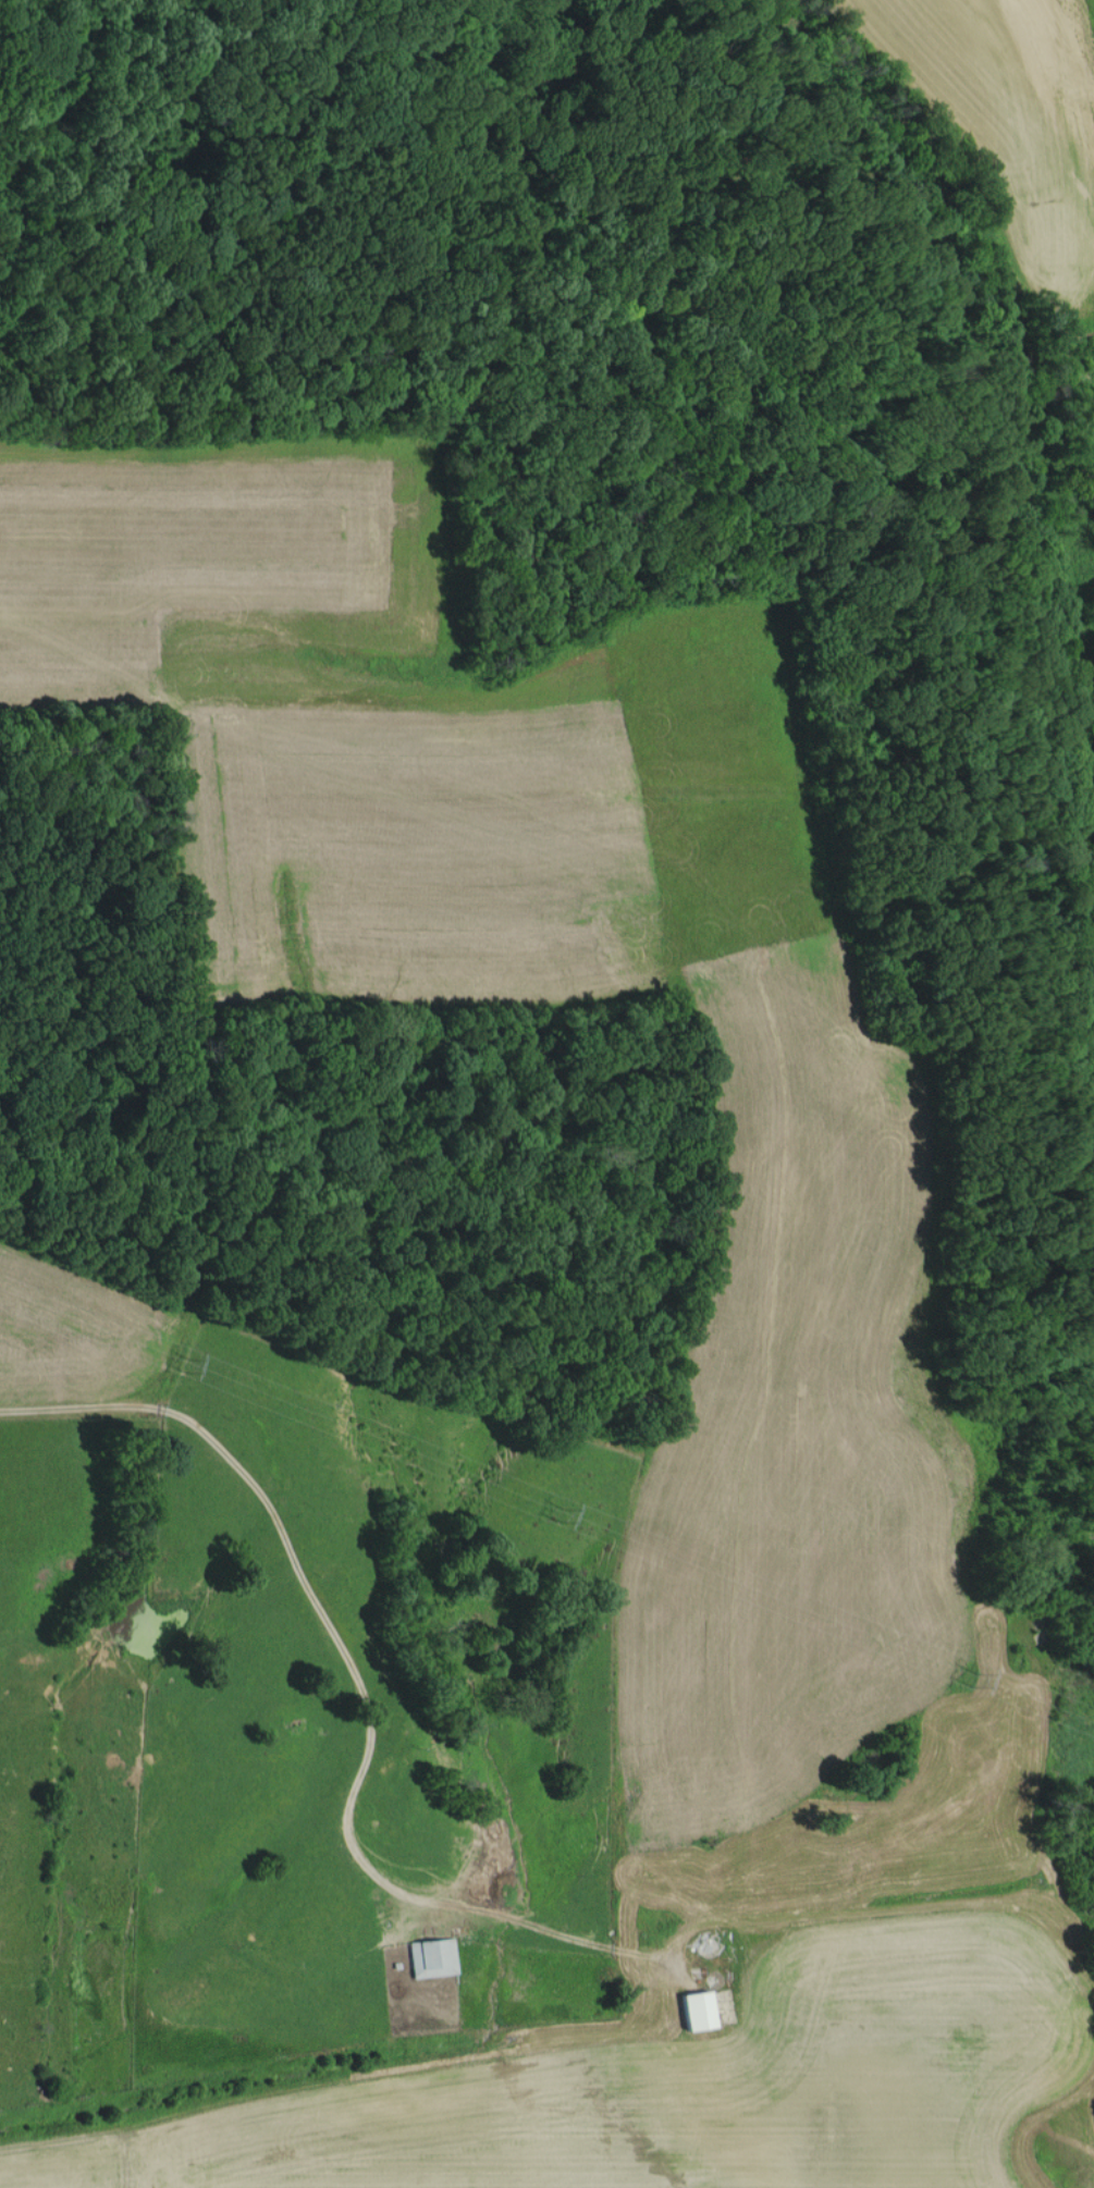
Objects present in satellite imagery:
power tower: (185, 1365)
power tower: (558, 1515)
power tower: (976, 1681)
road: (354, 1695)
building: (433, 1957)
building: (699, 2011)

